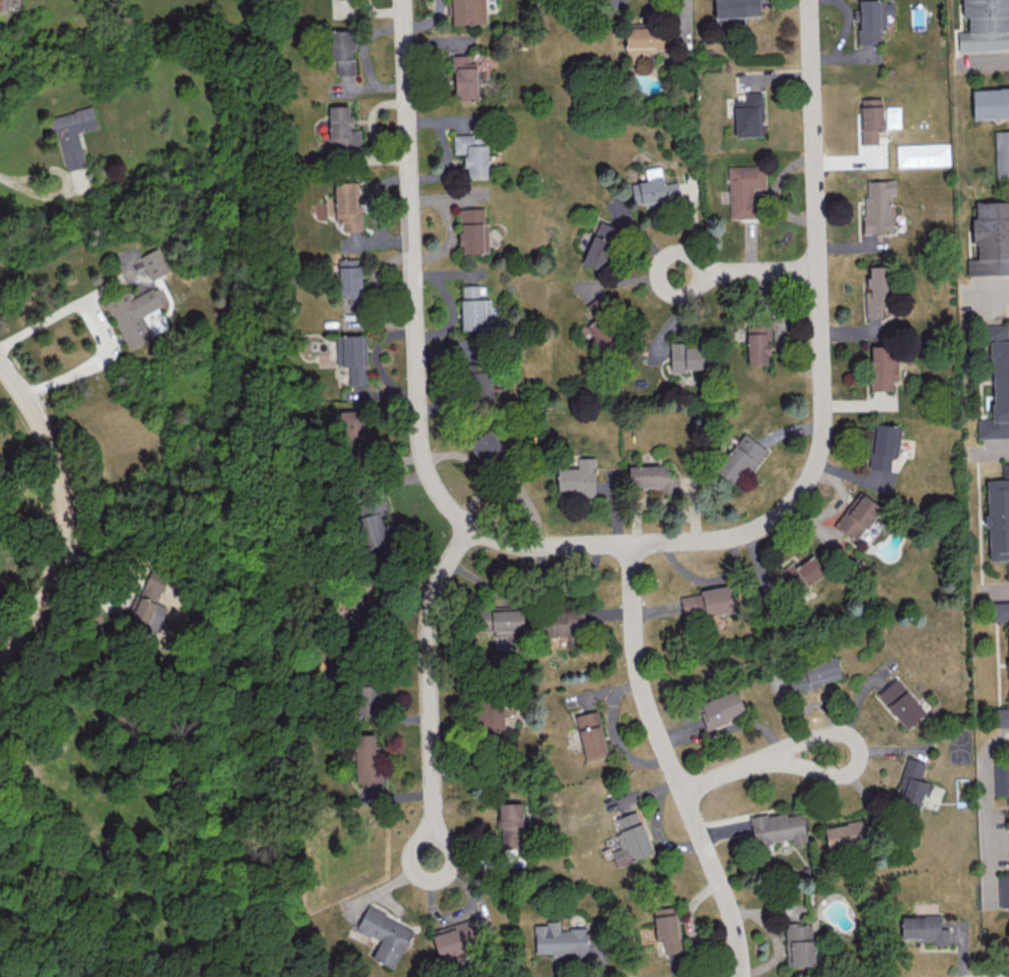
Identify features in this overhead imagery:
building: (588, 1)
building: (3, 4)
building: (734, 10)
building: (467, 11)
building: (871, 19)
building: (985, 25)
road: (843, 38)
building: (644, 40)
building: (342, 50)
road: (994, 60)
building: (464, 78)
building: (990, 103)
building: (748, 115)
building: (870, 119)
building: (342, 129)
building: (71, 134)
building: (472, 153)
building: (1001, 155)
road: (5, 181)
road: (67, 185)
building: (653, 187)
building: (744, 189)
building: (347, 205)
building: (878, 205)
building: (473, 230)
building: (990, 239)
building: (599, 245)
building: (154, 263)
road: (701, 271)
road: (760, 271)
building: (349, 275)
building: (876, 290)
building: (474, 309)
building: (134, 313)
road: (101, 328)
road: (820, 340)
building: (757, 343)
road: (416, 354)
building: (353, 356)
building: (688, 356)
building: (882, 367)
building: (997, 383)
building: (481, 384)
building: (353, 425)
building: (484, 445)
building: (884, 445)
road: (997, 452)
building: (739, 457)
building: (577, 477)
building: (648, 477)
road: (65, 508)
building: (856, 515)
building: (998, 516)
building: (372, 519)
building: (801, 573)
building: (706, 602)
building: (1000, 612)
building: (147, 616)
building: (561, 621)
building: (815, 674)
road: (428, 677)
building: (371, 698)
building: (900, 702)
building: (720, 708)
building: (489, 715)
building: (1002, 716)
building: (590, 734)
road: (856, 753)
building: (367, 759)
road: (672, 764)
road: (729, 772)
building: (1001, 778)
building: (912, 784)
road: (986, 819)
building: (510, 825)
building: (777, 827)
building: (847, 834)
road: (431, 837)
building: (630, 839)
building: (1003, 890)
building: (666, 928)
building: (922, 929)
building: (385, 936)
building: (454, 937)
building: (559, 939)
building: (799, 944)

